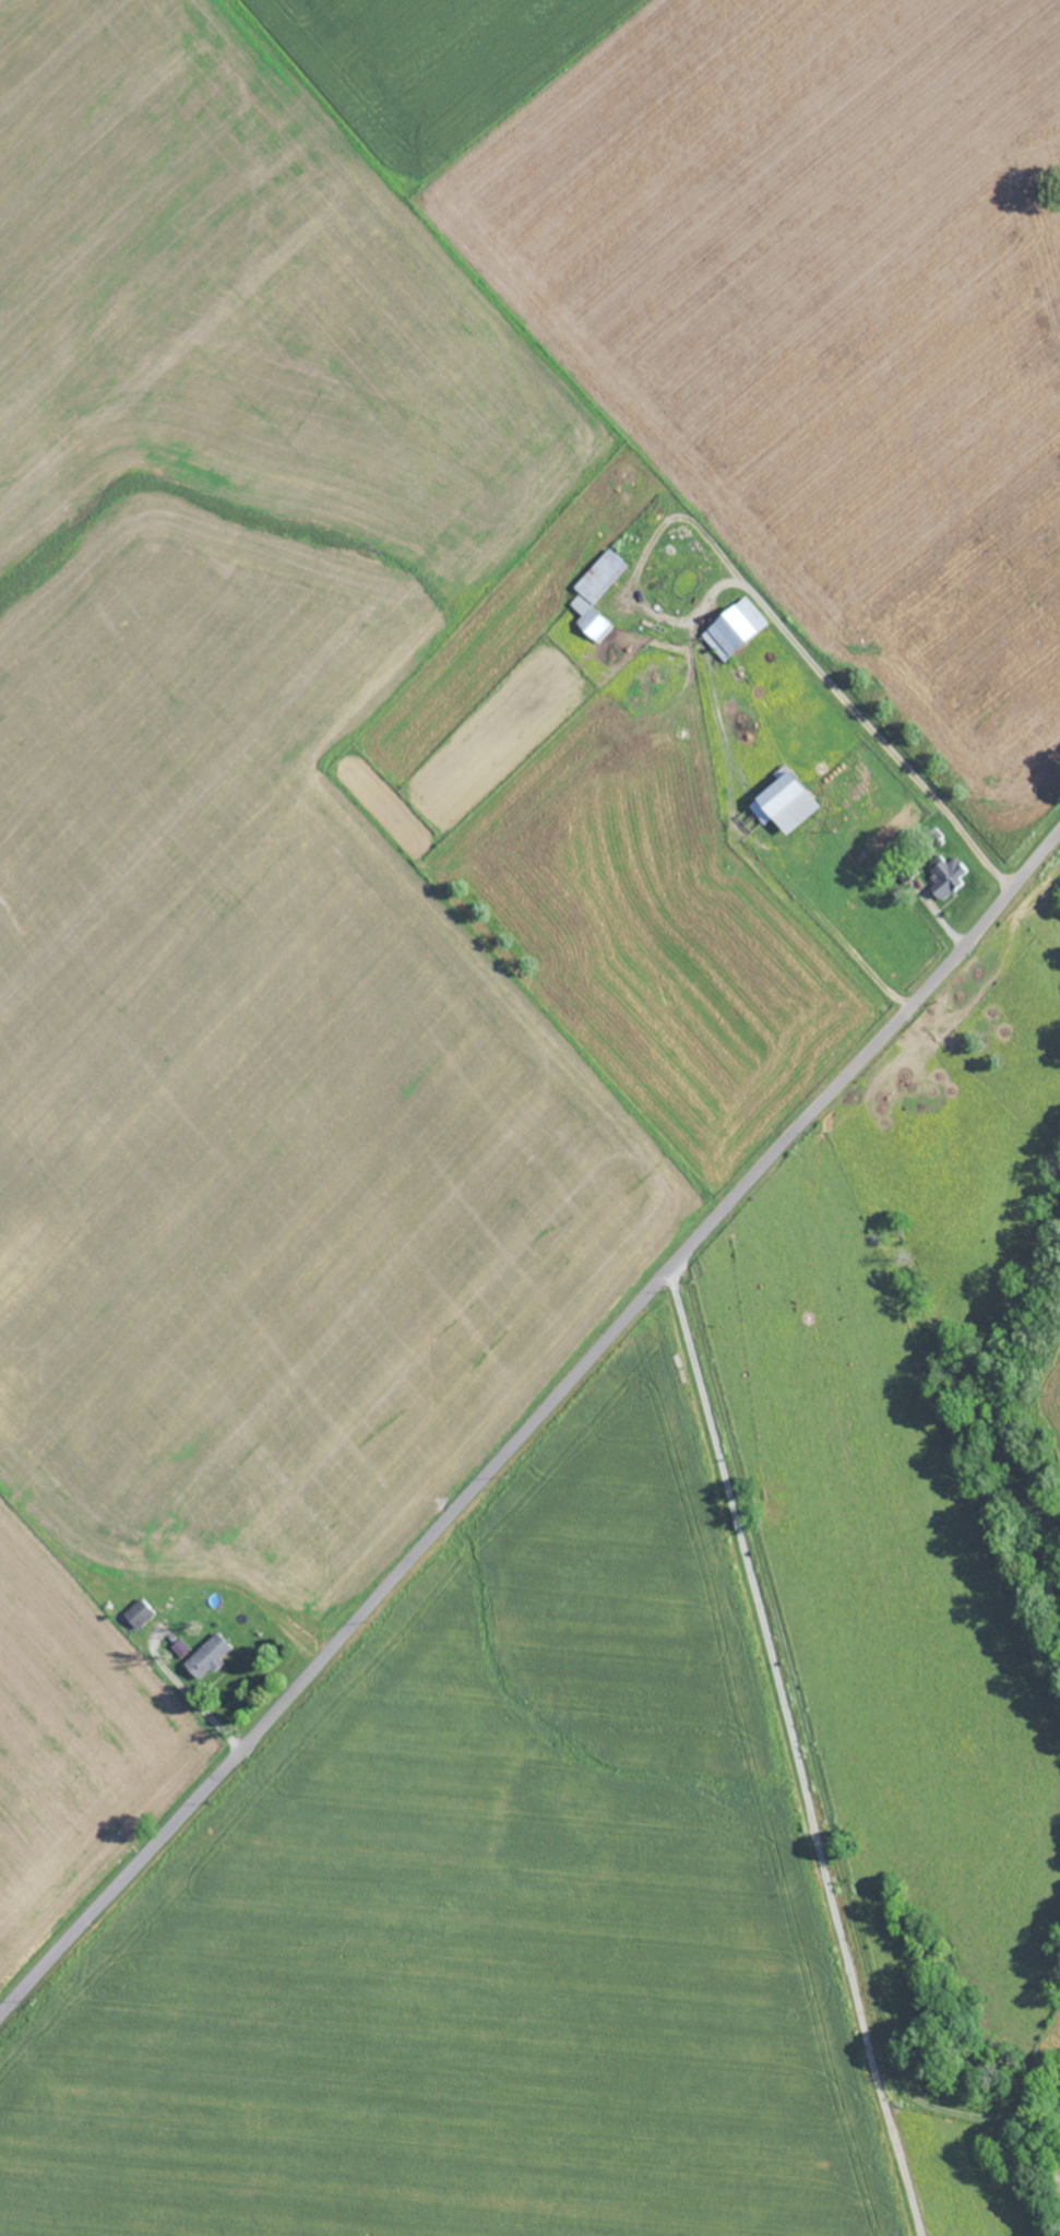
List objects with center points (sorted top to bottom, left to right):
building: (596, 594)
building: (735, 628)
building: (786, 802)
building: (949, 877)
road: (531, 1420)
building: (138, 1612)
building: (179, 1646)
building: (207, 1656)

